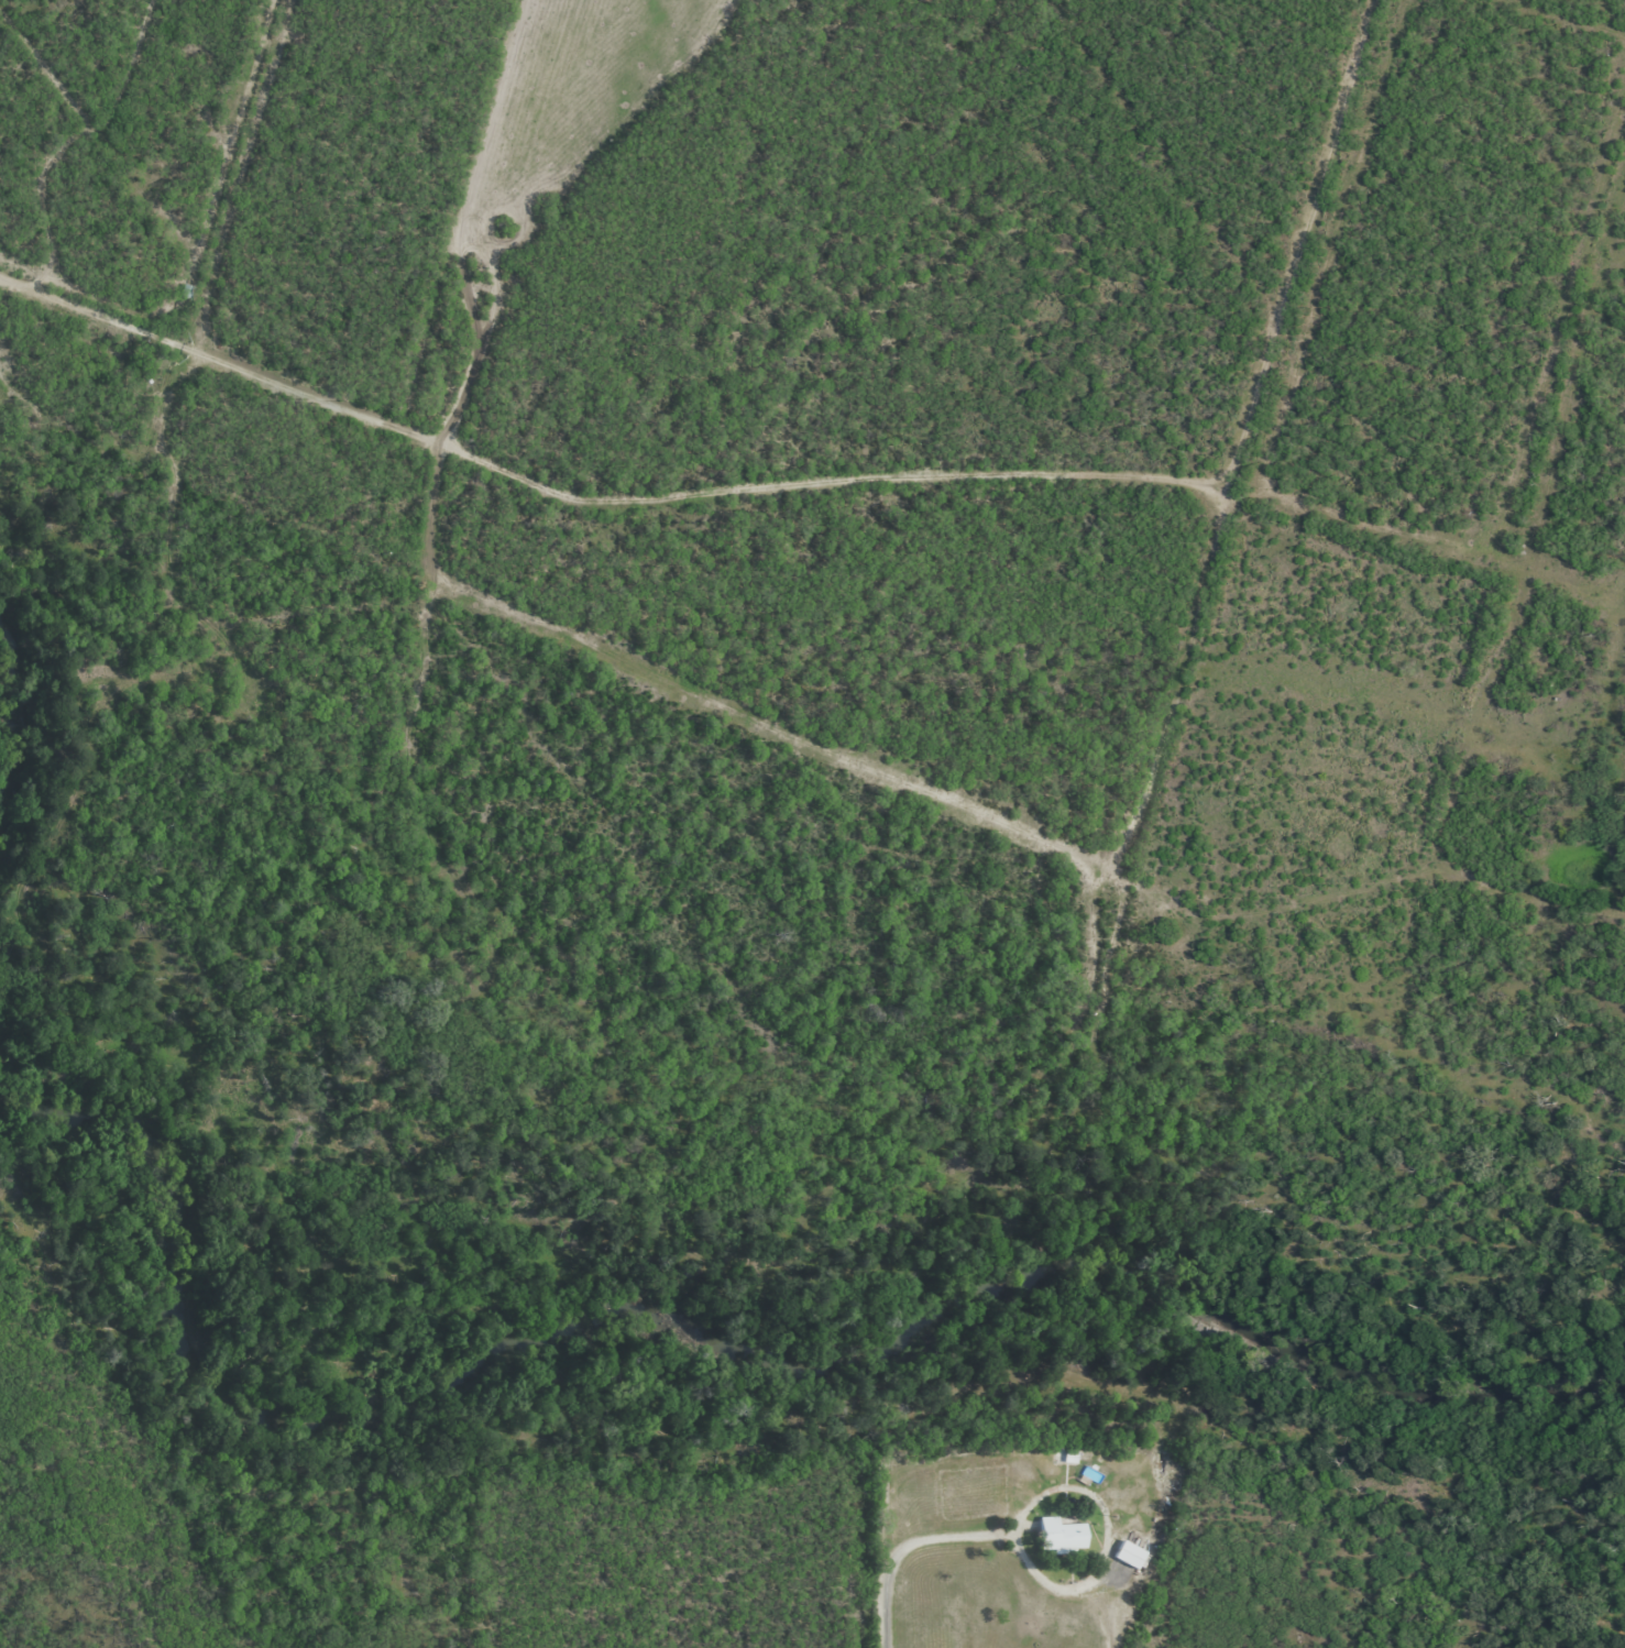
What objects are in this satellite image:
building: (186, 290)
road: (218, 358)
river: (11, 730)
river: (739, 1349)
building: (1058, 1536)
building: (1131, 1553)

